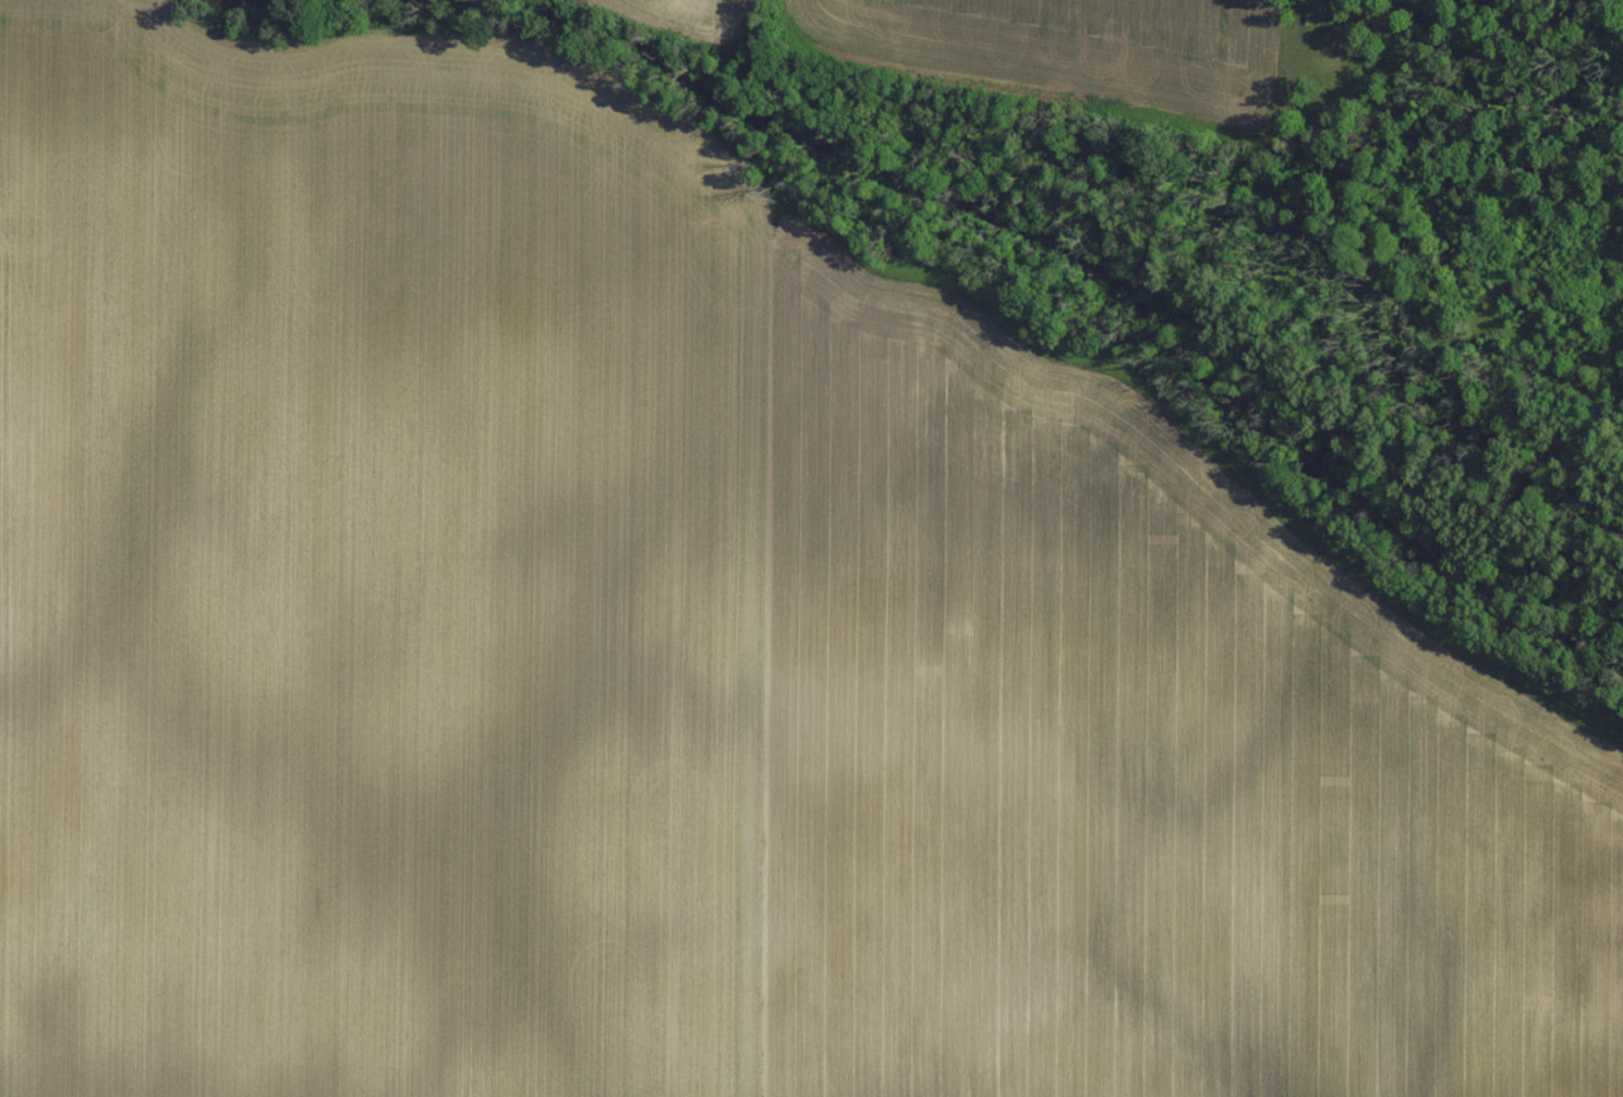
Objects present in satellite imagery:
crop: (699, 16)
crop: (685, 642)

